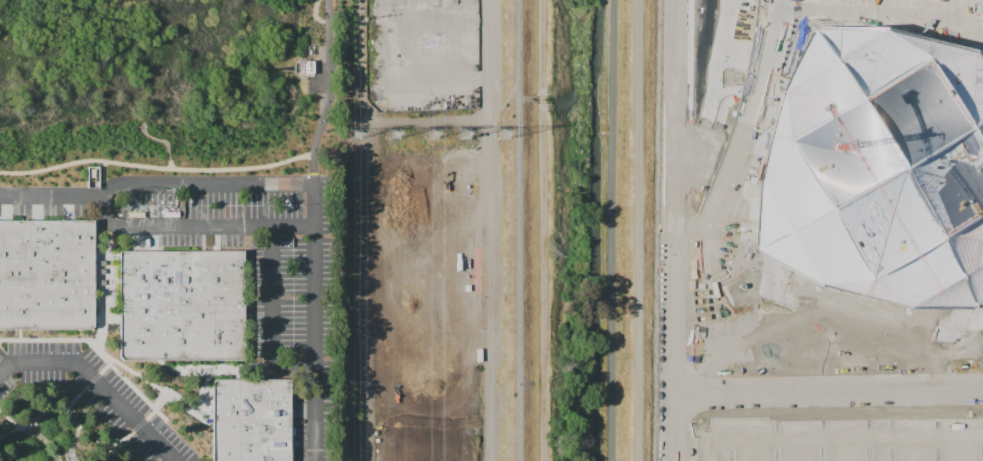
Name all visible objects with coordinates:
building: (309, 66)
power tower: (434, 133)
power tower: (356, 134)
power tower: (394, 134)
power tower: (467, 134)
power tower: (503, 135)
road: (232, 144)
road: (310, 166)
building: (878, 170)
road: (224, 183)
parking lot: (44, 196)
road: (265, 226)
road: (518, 230)
road: (642, 230)
road: (674, 230)
road: (202, 238)
road: (151, 239)
road: (106, 250)
road: (150, 250)
road: (105, 255)
road: (97, 266)
building: (46, 275)
parking lot: (262, 275)
road: (102, 278)
building: (181, 305)
road: (104, 310)
road: (819, 312)
road: (273, 314)
road: (97, 319)
road: (111, 319)
road: (14, 340)
road: (66, 340)
road: (56, 346)
road: (249, 362)
road: (221, 368)
road: (185, 370)
road: (236, 374)
road: (136, 375)
road: (97, 382)
road: (89, 383)
road: (205, 384)
road: (136, 392)
parking lot: (93, 393)
road: (828, 394)
road: (183, 402)
road: (204, 403)
road: (57, 409)
road: (151, 414)
building: (252, 420)
road: (9, 431)
parking lot: (835, 436)
road: (114, 444)
road: (106, 458)

